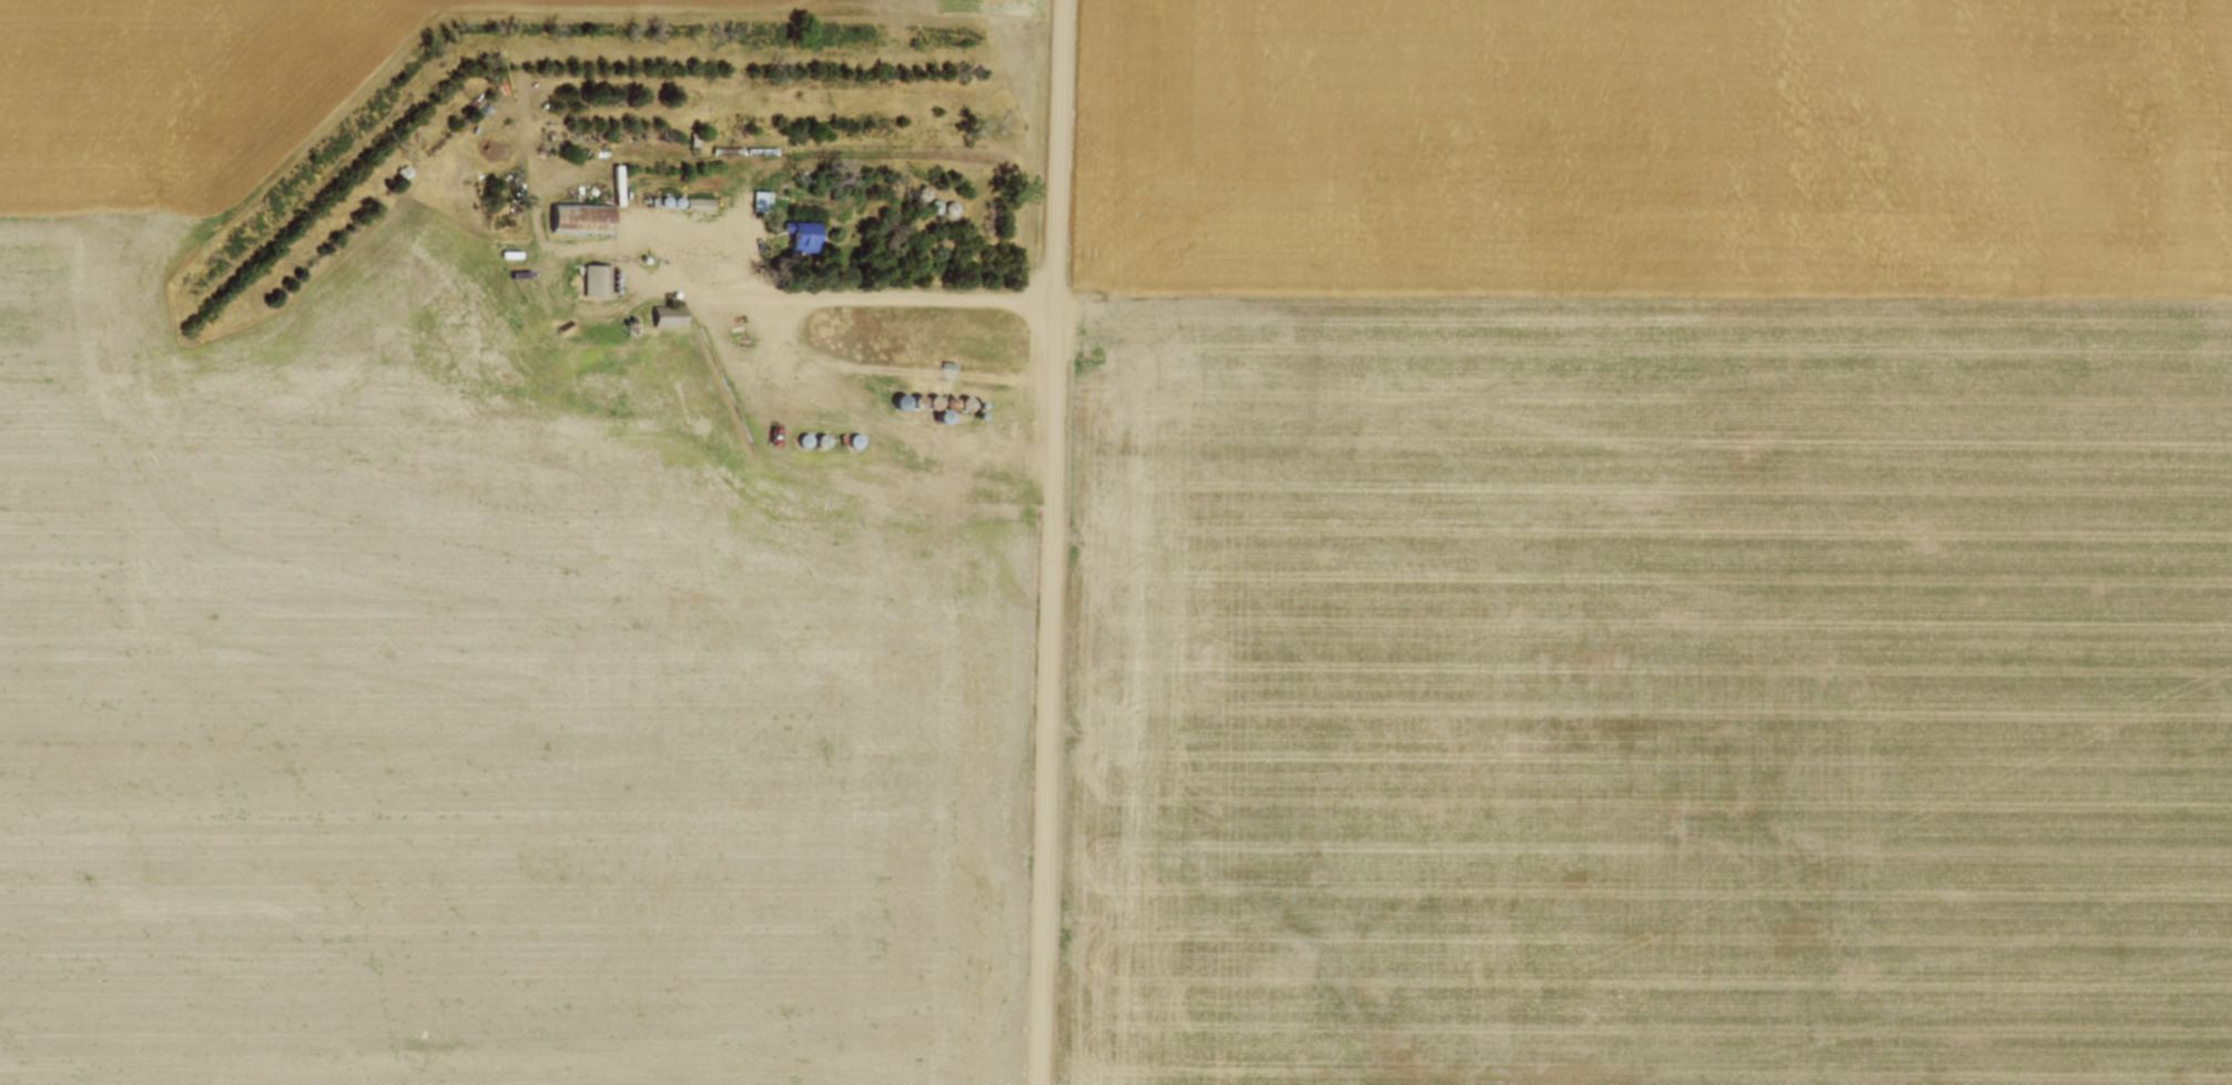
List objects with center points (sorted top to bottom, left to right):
building: (762, 199)
building: (663, 201)
silo: (663, 201)
building: (678, 202)
silo: (678, 202)
building: (699, 202)
building: (579, 220)
building: (802, 240)
building: (597, 278)
road: (849, 298)
building: (668, 322)
road: (816, 357)
building: (902, 399)
silo: (902, 399)
building: (917, 402)
silo: (917, 402)
building: (934, 402)
silo: (934, 402)
building: (950, 402)
silo: (950, 402)
building: (966, 403)
silo: (966, 403)
building: (941, 417)
silo: (941, 417)
building: (804, 439)
silo: (804, 439)
building: (822, 440)
silo: (822, 440)
building: (855, 443)
silo: (855, 443)
road: (1052, 542)
crop: (1653, 544)
crop: (456, 638)

